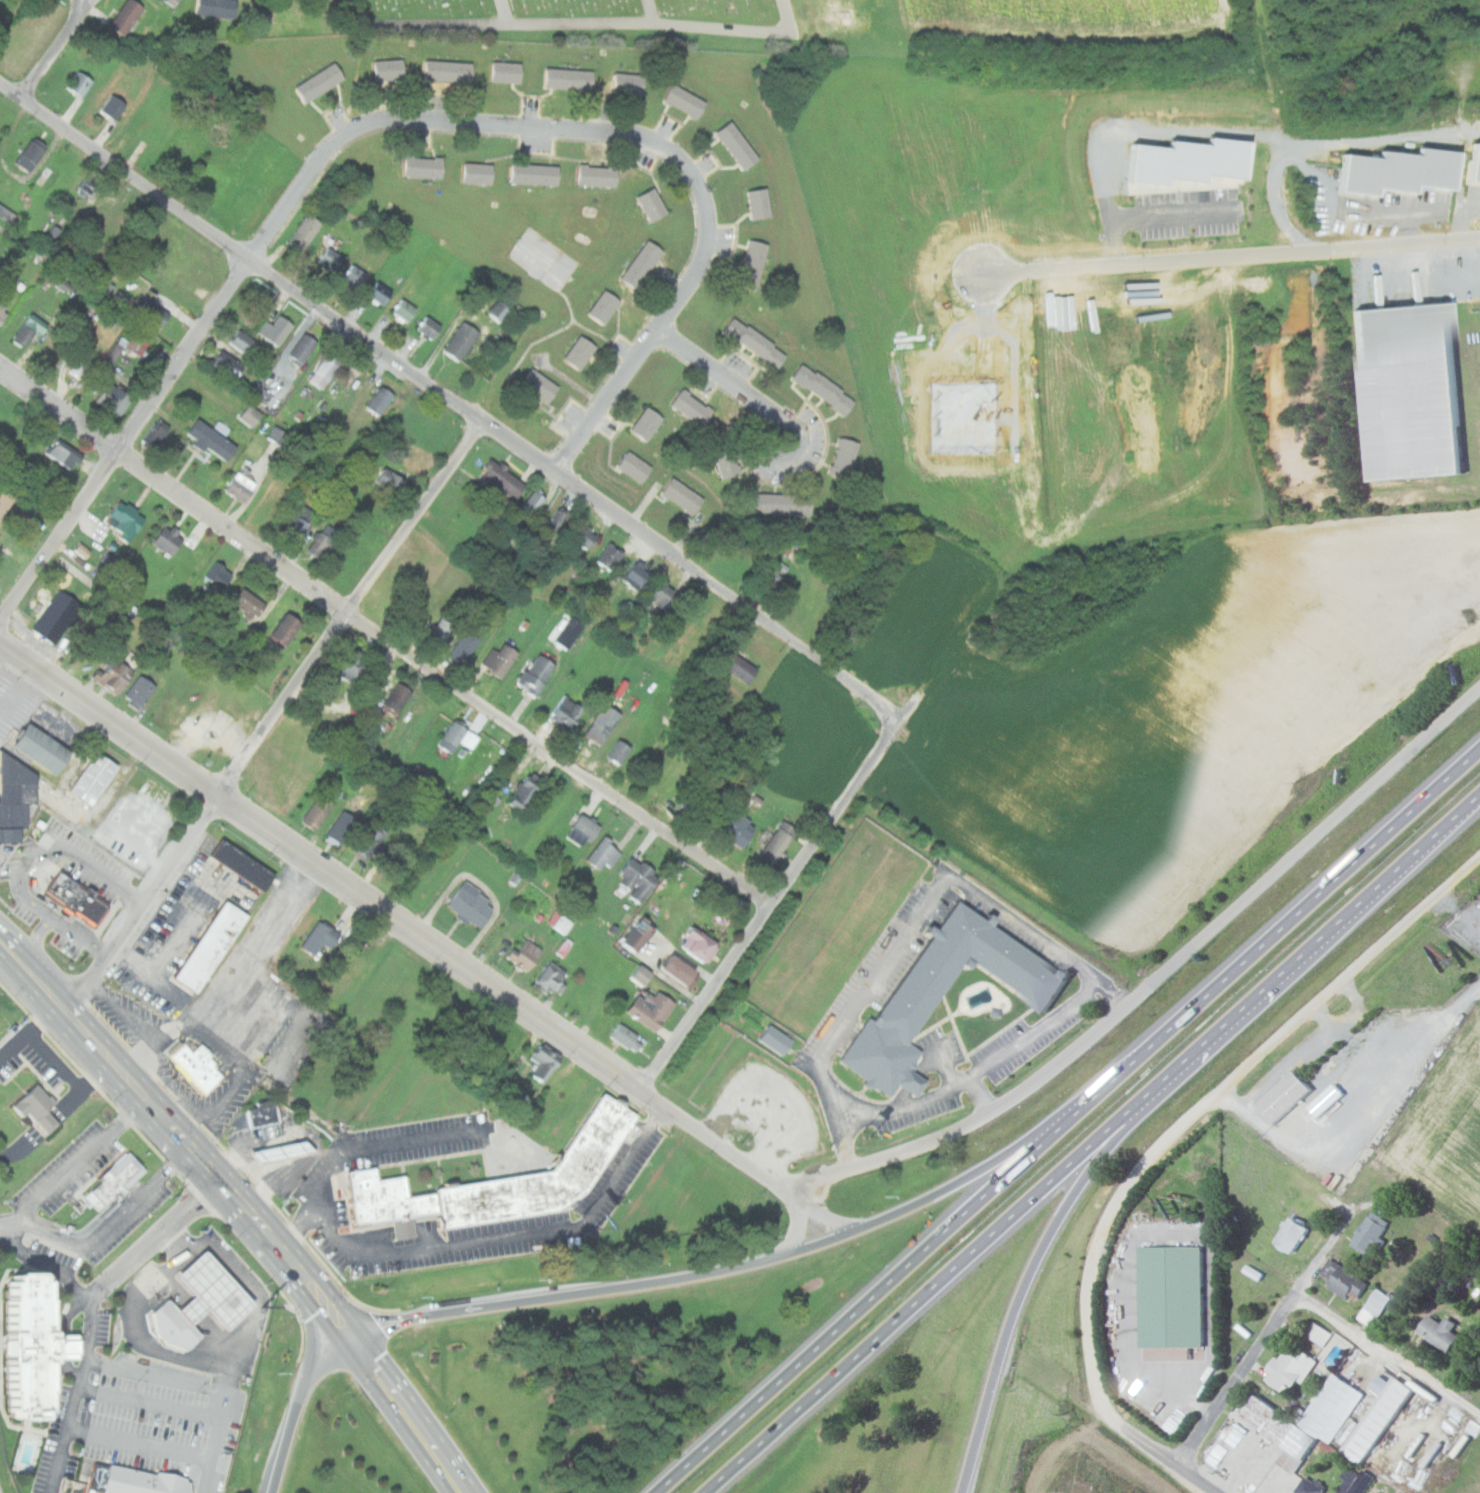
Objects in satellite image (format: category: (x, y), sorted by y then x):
building: (173, 2)
road: (79, 7)
building: (217, 8)
road: (508, 13)
building: (126, 17)
park: (580, 17)
road: (510, 27)
road: (740, 28)
road: (56, 50)
building: (389, 70)
building: (449, 71)
building: (506, 72)
building: (569, 79)
building: (319, 82)
building: (79, 83)
building: (629, 84)
building: (685, 102)
building: (112, 107)
road: (618, 134)
building: (737, 146)
building: (30, 154)
building: (1472, 164)
building: (1188, 165)
building: (424, 166)
building: (1394, 172)
building: (478, 173)
building: (536, 174)
building: (598, 175)
building: (87, 184)
building: (759, 203)
building: (652, 204)
building: (4, 212)
road: (1149, 212)
building: (303, 231)
road: (1230, 251)
building: (328, 259)
building: (753, 263)
building: (643, 264)
building: (354, 276)
building: (58, 284)
building: (378, 292)
building: (605, 305)
building: (499, 309)
building: (402, 310)
building: (3, 311)
building: (151, 311)
building: (427, 327)
building: (277, 329)
building: (26, 331)
building: (461, 339)
building: (242, 342)
building: (756, 342)
building: (128, 343)
building: (302, 347)
building: (580, 351)
building: (227, 363)
building: (79, 367)
building: (323, 370)
road: (725, 380)
building: (540, 384)
building: (823, 388)
building: (1405, 391)
building: (112, 398)
building: (378, 399)
road: (450, 400)
building: (693, 406)
building: (249, 415)
building: (647, 422)
building: (155, 434)
road: (126, 438)
building: (211, 439)
building: (62, 453)
building: (726, 456)
building: (844, 456)
building: (414, 461)
building: (634, 466)
building: (504, 478)
building: (390, 480)
building: (239, 487)
building: (683, 495)
building: (5, 499)
building: (532, 502)
building: (783, 503)
building: (127, 515)
building: (556, 518)
building: (297, 523)
building: (585, 535)
building: (163, 539)
building: (322, 541)
building: (78, 550)
building: (609, 555)
building: (774, 572)
building: (218, 575)
building: (635, 575)
building: (661, 592)
building: (248, 602)
road: (346, 605)
building: (56, 616)
building: (286, 629)
building: (442, 629)
road: (384, 636)
building: (464, 645)
building: (501, 658)
building: (351, 664)
building: (740, 667)
building: (113, 674)
building: (537, 674)
building: (138, 692)
building: (396, 698)
building: (568, 712)
building: (603, 723)
building: (461, 736)
building: (42, 749)
building: (619, 751)
building: (93, 778)
building: (465, 784)
building: (527, 792)
building: (12, 797)
building: (737, 797)
building: (695, 801)
building: (317, 811)
building: (340, 828)
building: (583, 830)
building: (739, 830)
building: (368, 842)
building: (778, 842)
building: (604, 854)
building: (242, 864)
building: (639, 879)
road: (143, 898)
building: (78, 899)
road: (770, 904)
building: (472, 905)
road: (926, 908)
road: (393, 918)
building: (557, 922)
building: (639, 934)
building: (319, 937)
building: (699, 945)
building: (212, 947)
building: (525, 954)
building: (683, 969)
building: (642, 975)
building: (552, 978)
road: (1156, 979)
building: (910, 995)
building: (652, 1009)
road: (81, 1013)
road: (73, 1034)
building: (628, 1037)
building: (777, 1040)
building: (543, 1064)
building: (196, 1066)
road: (946, 1066)
road: (981, 1071)
road: (918, 1076)
road: (981, 1096)
building: (1289, 1097)
road: (1216, 1102)
building: (38, 1109)
building: (263, 1115)
road: (136, 1117)
road: (1063, 1120)
road: (1090, 1141)
road: (375, 1148)
building: (284, 1152)
parking lot: (78, 1169)
road: (80, 1169)
building: (116, 1180)
building: (499, 1182)
road: (227, 1187)
road: (945, 1188)
road: (36, 1213)
road: (822, 1215)
parking lot: (140, 1217)
road: (798, 1226)
road: (1051, 1228)
road: (110, 1231)
building: (1297, 1234)
building: (1372, 1235)
road: (155, 1239)
road: (180, 1240)
road: (479, 1241)
parking lot: (64, 1254)
road: (45, 1260)
road: (180, 1262)
building: (1345, 1281)
building: (212, 1292)
road: (334, 1295)
building: (1176, 1297)
road: (474, 1308)
building: (1376, 1308)
road: (58, 1320)
parking lot: (111, 1323)
building: (176, 1328)
traffic signals: (360, 1329)
road: (94, 1333)
building: (1442, 1333)
building: (1317, 1334)
road: (67, 1338)
building: (25, 1345)
road: (61, 1347)
building: (64, 1347)
road: (1387, 1353)
road: (1251, 1357)
building: (1293, 1371)
road: (1053, 1381)
road: (371, 1383)
road: (156, 1402)
road: (53, 1406)
road: (420, 1410)
parking lot: (171, 1416)
building: (1334, 1421)
road: (26, 1428)
road: (228, 1429)
road: (68, 1434)
road: (146, 1440)
parking lot: (58, 1441)
road: (1160, 1454)
building: (1357, 1480)
building: (150, 1481)
building: (1314, 1486)
road: (0, 1489)

